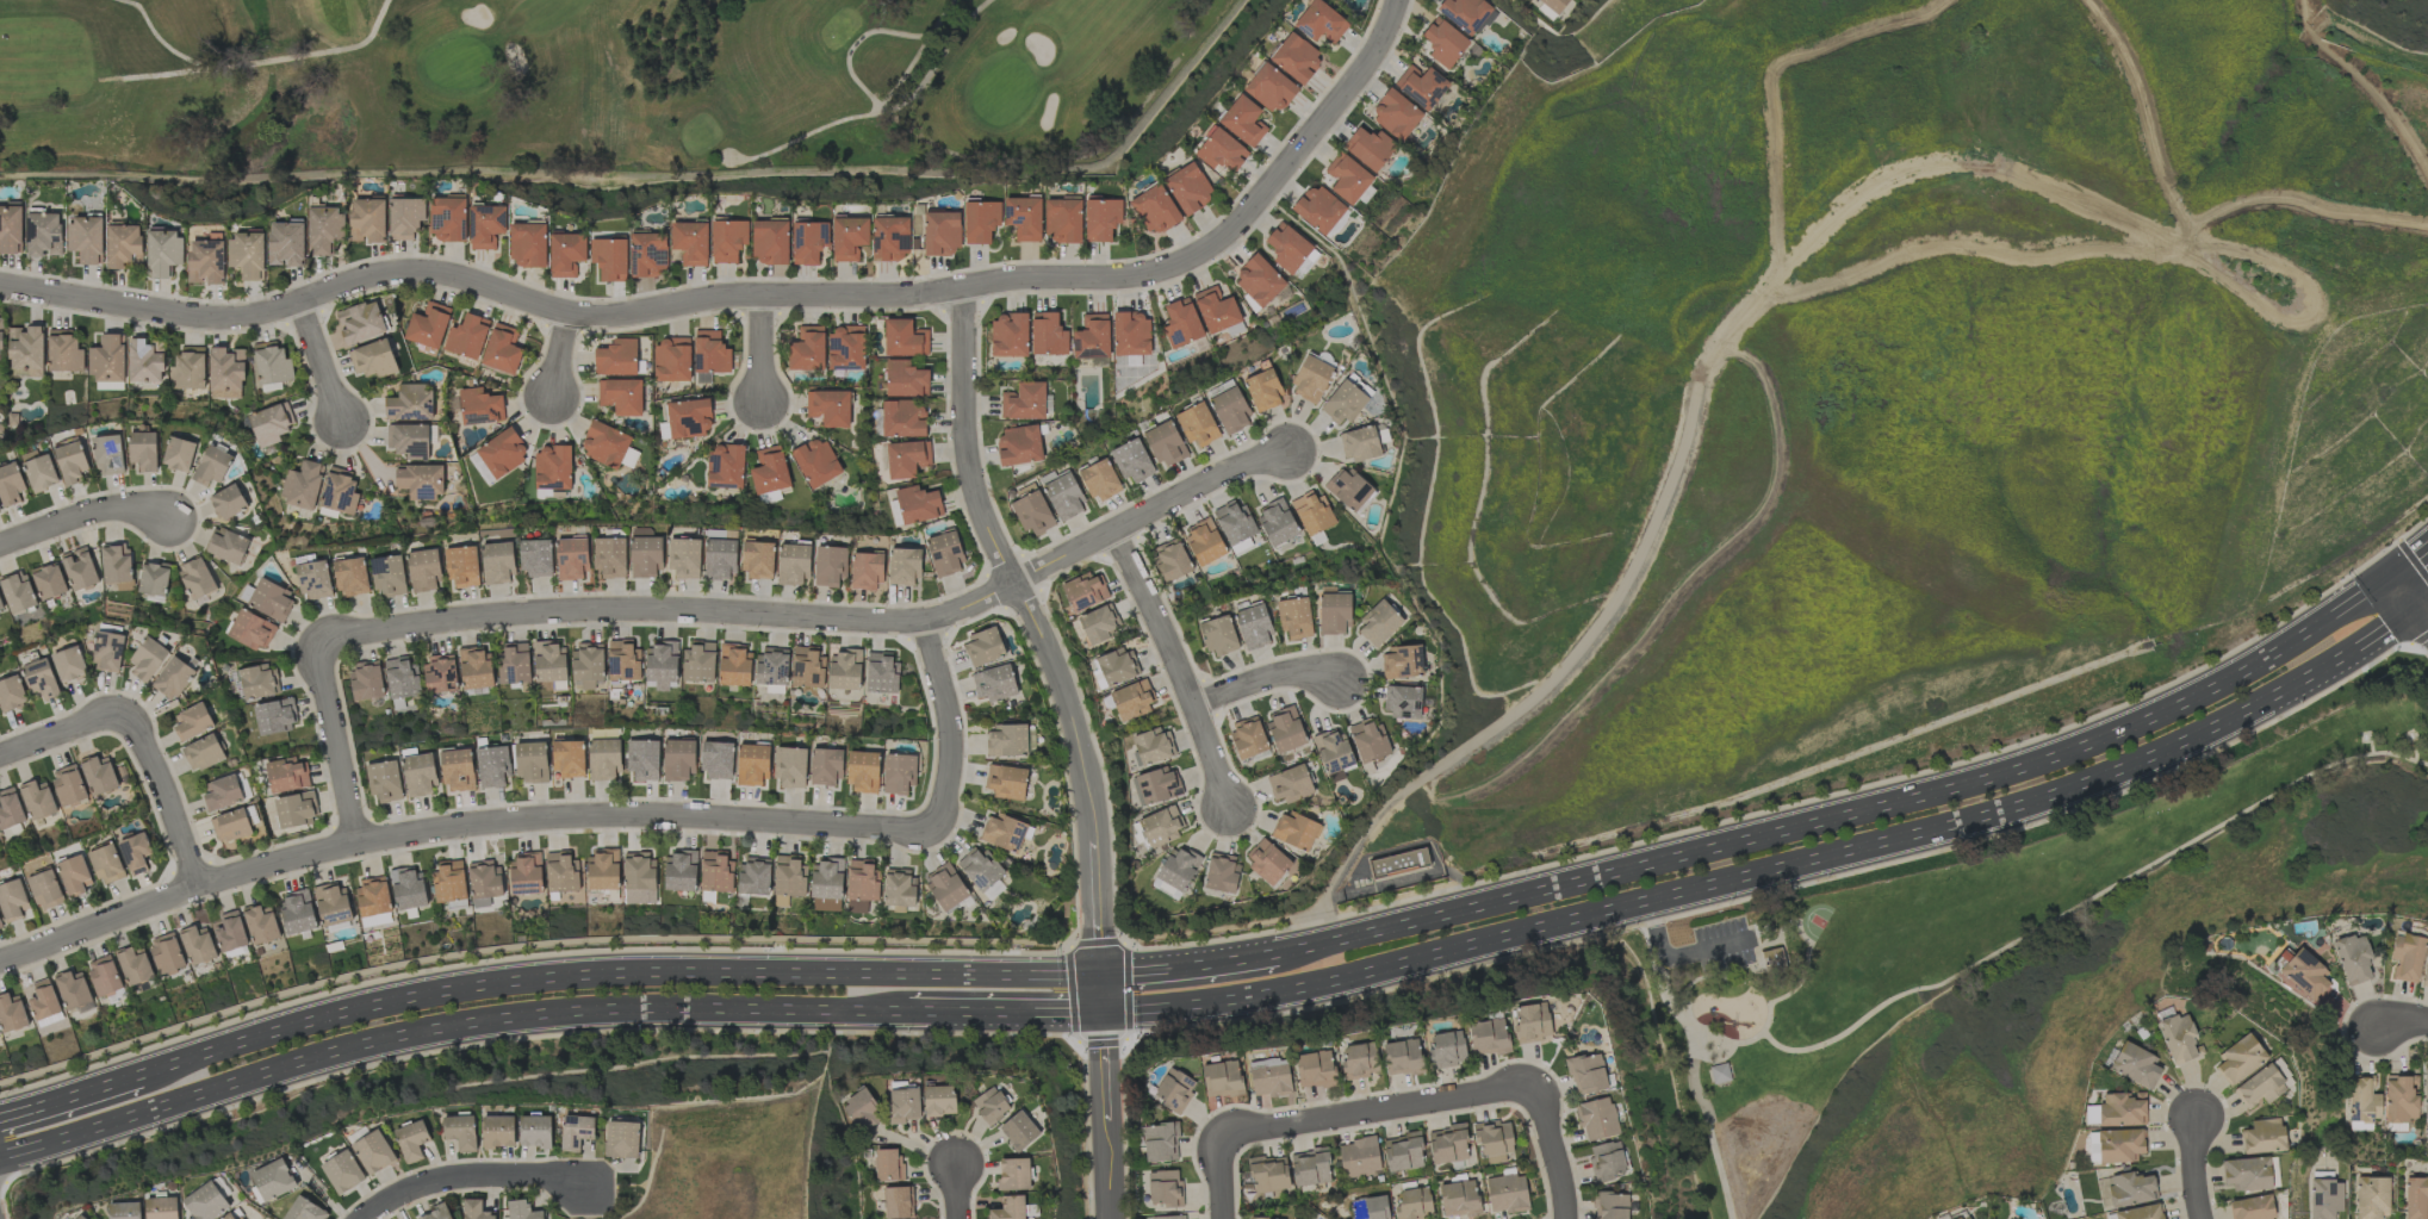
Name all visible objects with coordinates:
building: (1554, 5)
building: (1467, 14)
building: (1319, 23)
building: (1443, 43)
building: (1296, 57)
road: (1771, 67)
park: (588, 81)
building: (1421, 86)
road: (2365, 86)
building: (1271, 88)
building: (1395, 116)
road: (2142, 116)
building: (1243, 120)
building: (1368, 148)
building: (1219, 150)
building: (1347, 178)
building: (1188, 188)
road: (2299, 205)
building: (1154, 210)
building: (1318, 210)
building: (405, 217)
building: (1024, 218)
building: (447, 219)
building: (1101, 219)
building: (367, 220)
building: (981, 220)
building: (1063, 220)
building: (486, 225)
building: (11, 230)
building: (324, 230)
building: (942, 232)
building: (43, 235)
building: (86, 238)
building: (849, 238)
building: (890, 238)
building: (727, 240)
building: (690, 242)
building: (770, 242)
building: (808, 242)
building: (286, 244)
building: (124, 245)
building: (528, 245)
building: (1287, 247)
road: (1974, 248)
building: (163, 253)
building: (566, 254)
building: (247, 255)
building: (648, 255)
building: (609, 259)
building: (205, 261)
building: (1308, 262)
building: (1259, 281)
road: (756, 296)
power tower: (2278, 298)
road: (2310, 305)
building: (1216, 310)
building: (360, 323)
building: (1181, 323)
building: (428, 325)
building: (1130, 334)
building: (1008, 335)
building: (1048, 335)
building: (467, 336)
building: (1091, 337)
building: (903, 338)
building: (0, 340)
building: (846, 348)
building: (502, 349)
building: (807, 349)
building: (25, 352)
building: (63, 352)
building: (710, 353)
road: (760, 353)
road: (559, 355)
building: (616, 357)
road: (323, 359)
building: (373, 359)
building: (107, 360)
building: (671, 360)
building: (144, 362)
building: (272, 363)
building: (187, 371)
building: (225, 373)
building: (1311, 378)
building: (905, 379)
building: (1263, 390)
building: (621, 396)
building: (1024, 402)
building: (1343, 403)
building: (410, 404)
road: (1695, 404)
building: (479, 406)
building: (828, 408)
building: (1230, 411)
building: (688, 418)
building: (902, 418)
building: (271, 424)
building: (1197, 424)
building: (408, 441)
building: (1165, 443)
building: (1359, 443)
building: (1019, 444)
building: (608, 446)
building: (143, 450)
building: (502, 453)
building: (179, 454)
building: (108, 455)
building: (906, 459)
building: (1131, 461)
building: (72, 462)
building: (816, 462)
building: (212, 466)
building: (725, 467)
building: (552, 468)
building: (480, 469)
building: (39, 471)
building: (769, 471)
building: (420, 480)
building: (1099, 480)
building: (11, 485)
building: (302, 486)
building: (1349, 489)
building: (339, 491)
building: (769, 497)
building: (1064, 497)
building: (228, 502)
building: (918, 504)
building: (0, 509)
road: (86, 512)
building: (1032, 512)
building: (1312, 512)
building: (1234, 522)
building: (721, 534)
building: (1204, 542)
building: (228, 546)
building: (1240, 547)
building: (945, 554)
building: (645, 556)
building: (535, 558)
building: (610, 558)
building: (684, 558)
building: (571, 559)
building: (719, 560)
building: (758, 560)
building: (1172, 560)
road: (2409, 561)
building: (116, 564)
building: (497, 564)
building: (793, 564)
building: (830, 565)
building: (461, 566)
building: (903, 567)
building: (79, 568)
building: (423, 571)
building: (865, 571)
building: (389, 576)
building: (350, 577)
building: (195, 578)
building: (153, 579)
building: (312, 579)
building: (49, 581)
building: (17, 592)
building: (1083, 592)
building: (271, 599)
road: (2409, 602)
building: (1, 604)
building: (1334, 614)
road: (819, 617)
building: (1294, 617)
building: (1378, 624)
building: (1099, 626)
building: (1254, 627)
building: (252, 630)
building: (1218, 635)
road: (1044, 646)
building: (982, 647)
building: (108, 652)
building: (148, 659)
building: (622, 660)
building: (549, 661)
building: (514, 663)
building: (698, 663)
building: (1401, 663)
building: (69, 664)
building: (586, 665)
building: (734, 665)
building: (660, 666)
building: (771, 666)
building: (1118, 666)
building: (474, 667)
building: (807, 667)
building: (844, 670)
road: (1175, 670)
building: (440, 673)
building: (881, 673)
building: (173, 678)
building: (400, 678)
building: (41, 679)
road: (1262, 680)
building: (259, 682)
building: (365, 682)
building: (994, 683)
building: (11, 694)
building: (1132, 699)
building: (1402, 702)
building: (275, 716)
building: (192, 722)
road: (946, 724)
road: (62, 728)
building: (1285, 729)
building: (1248, 738)
building: (1007, 740)
road: (337, 742)
building: (1368, 744)
building: (1153, 747)
building: (1331, 751)
building: (203, 753)
building: (569, 759)
building: (604, 759)
building: (642, 759)
building: (678, 760)
building: (718, 760)
building: (530, 761)
building: (752, 765)
building: (492, 766)
building: (790, 767)
building: (825, 767)
building: (458, 770)
building: (863, 772)
building: (899, 773)
building: (99, 775)
building: (286, 775)
building: (420, 775)
building: (384, 780)
building: (1006, 782)
building: (1290, 784)
building: (68, 785)
building: (1156, 786)
road: (164, 792)
building: (222, 792)
building: (37, 800)
building: (10, 808)
building: (294, 810)
road: (1849, 815)
building: (230, 826)
road: (458, 826)
building: (1161, 826)
building: (1294, 831)
building: (1005, 832)
building: (135, 852)
building: (1267, 862)
building: (1398, 863)
building: (106, 864)
building: (1178, 867)
building: (602, 869)
building: (979, 869)
building: (681, 870)
road: (1786, 870)
building: (561, 872)
building: (715, 872)
building: (1222, 872)
building: (526, 873)
building: (75, 875)
building: (753, 876)
building: (789, 876)
building: (639, 878)
building: (448, 881)
building: (827, 881)
building: (862, 882)
building: (484, 883)
building: (408, 888)
building: (899, 888)
building: (945, 888)
building: (1166, 889)
building: (45, 890)
road: (2091, 898)
building: (13, 900)
building: (373, 901)
building: (333, 904)
building: (297, 912)
road: (1321, 913)
road: (1652, 916)
park: (1815, 922)
building: (260, 926)
building: (230, 932)
park: (1943, 932)
building: (197, 945)
parking lot: (1724, 951)
building: (166, 953)
road: (1691, 954)
building: (2405, 957)
building: (1772, 958)
building: (2353, 958)
building: (135, 965)
road: (1806, 969)
road: (1185, 970)
building: (2426, 974)
building: (103, 975)
road: (614, 975)
road: (1654, 977)
building: (2303, 977)
road: (1688, 989)
building: (73, 990)
building: (43, 1000)
building: (11, 1014)
road: (1004, 1016)
building: (1530, 1022)
road: (2403, 1024)
road: (1683, 1027)
road: (445, 1031)
building: (1488, 1037)
building: (2176, 1038)
building: (1447, 1050)
building: (1402, 1057)
building: (2240, 1059)
building: (1359, 1061)
building: (2135, 1065)
building: (1315, 1069)
building: (1586, 1074)
building: (1719, 1074)
building: (1269, 1077)
building: (1222, 1078)
building: (2259, 1087)
building: (1174, 1090)
building: (2424, 1090)
road: (70, 1096)
building: (2401, 1099)
building: (939, 1100)
building: (2362, 1103)
building: (902, 1105)
building: (991, 1106)
road: (1374, 1109)
building: (2120, 1111)
building: (862, 1112)
building: (2091, 1114)
road: (1106, 1117)
building: (1596, 1119)
building: (498, 1131)
building: (534, 1131)
building: (1019, 1131)
building: (460, 1132)
building: (576, 1132)
building: (2262, 1137)
building: (621, 1139)
building: (411, 1140)
road: (1712, 1140)
building: (1494, 1142)
building: (1160, 1143)
building: (1448, 1144)
building: (2119, 1145)
road: (1552, 1150)
building: (373, 1152)
building: (1403, 1153)
building: (1359, 1157)
building: (1606, 1161)
building: (888, 1164)
road: (2192, 1167)
building: (1310, 1168)
building: (342, 1171)
building: (1013, 1174)
building: (1268, 1174)
building: (2247, 1174)
road: (472, 1177)
road: (1221, 1178)
building: (273, 1180)
building: (1165, 1188)
building: (2130, 1189)
road: (956, 1192)
building: (1507, 1194)
building: (2371, 1198)
building: (2415, 1198)
building: (1458, 1199)
building: (2324, 1199)
building: (205, 1202)
building: (898, 1202)
building: (1412, 1204)
building: (1610, 1206)
building: (162, 1208)
building: (1008, 1208)
building: (1370, 1208)
building: (2250, 1208)
building: (304, 1209)
building: (474, 1209)
building: (125, 1211)
building: (522, 1211)
building: (2141, 1212)
building: (435, 1213)
building: (81, 1217)
building: (229, 1217)
building: (1168, 1217)
building: (1963, 1217)
building: (1260, 1218)

